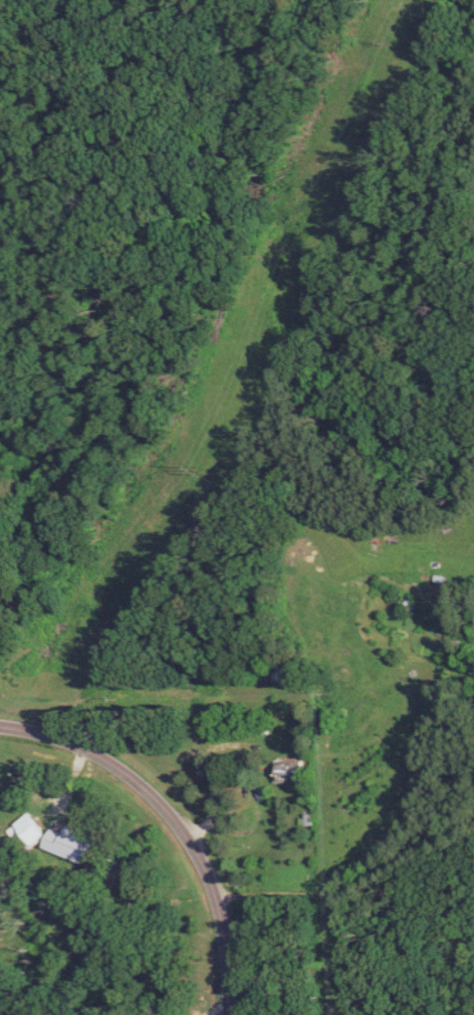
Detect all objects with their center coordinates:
building: (293, 770)
road: (174, 821)
building: (33, 831)
building: (74, 843)
road: (361, 891)

